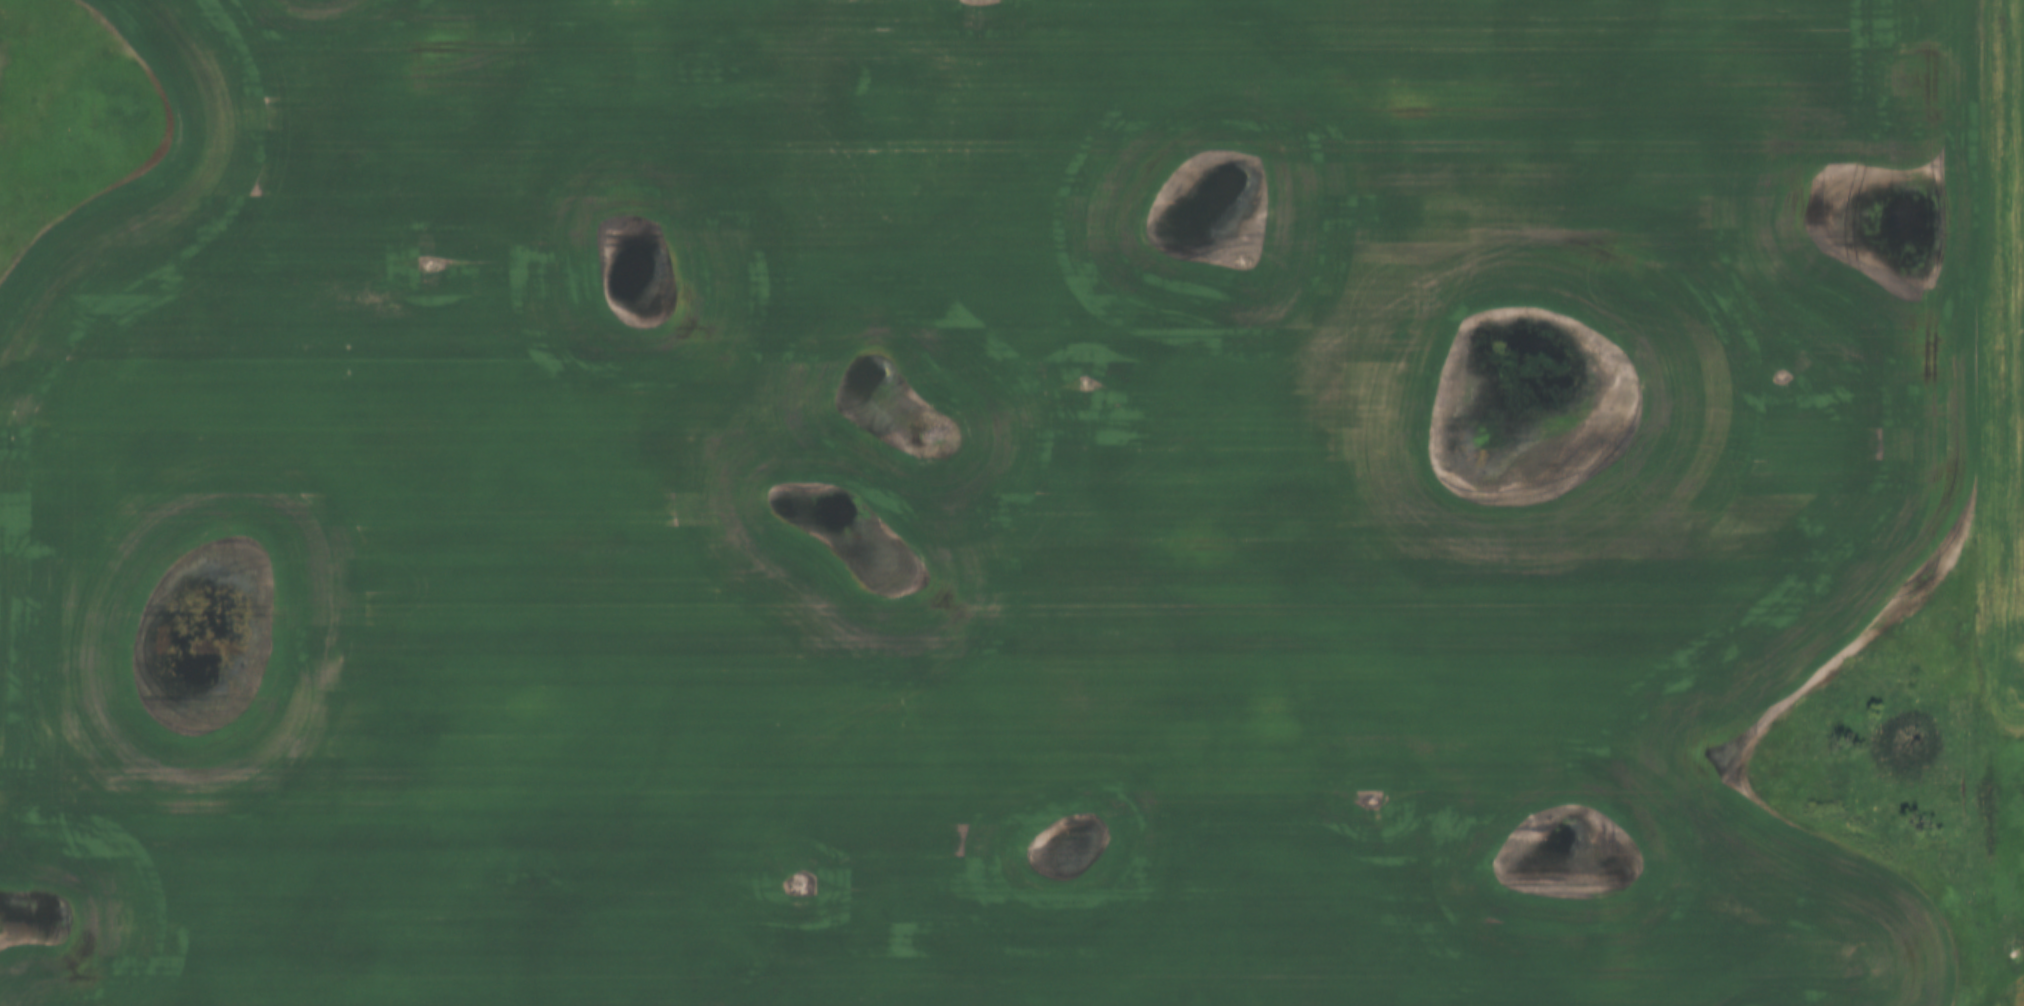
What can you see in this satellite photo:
road: (1992, 504)

